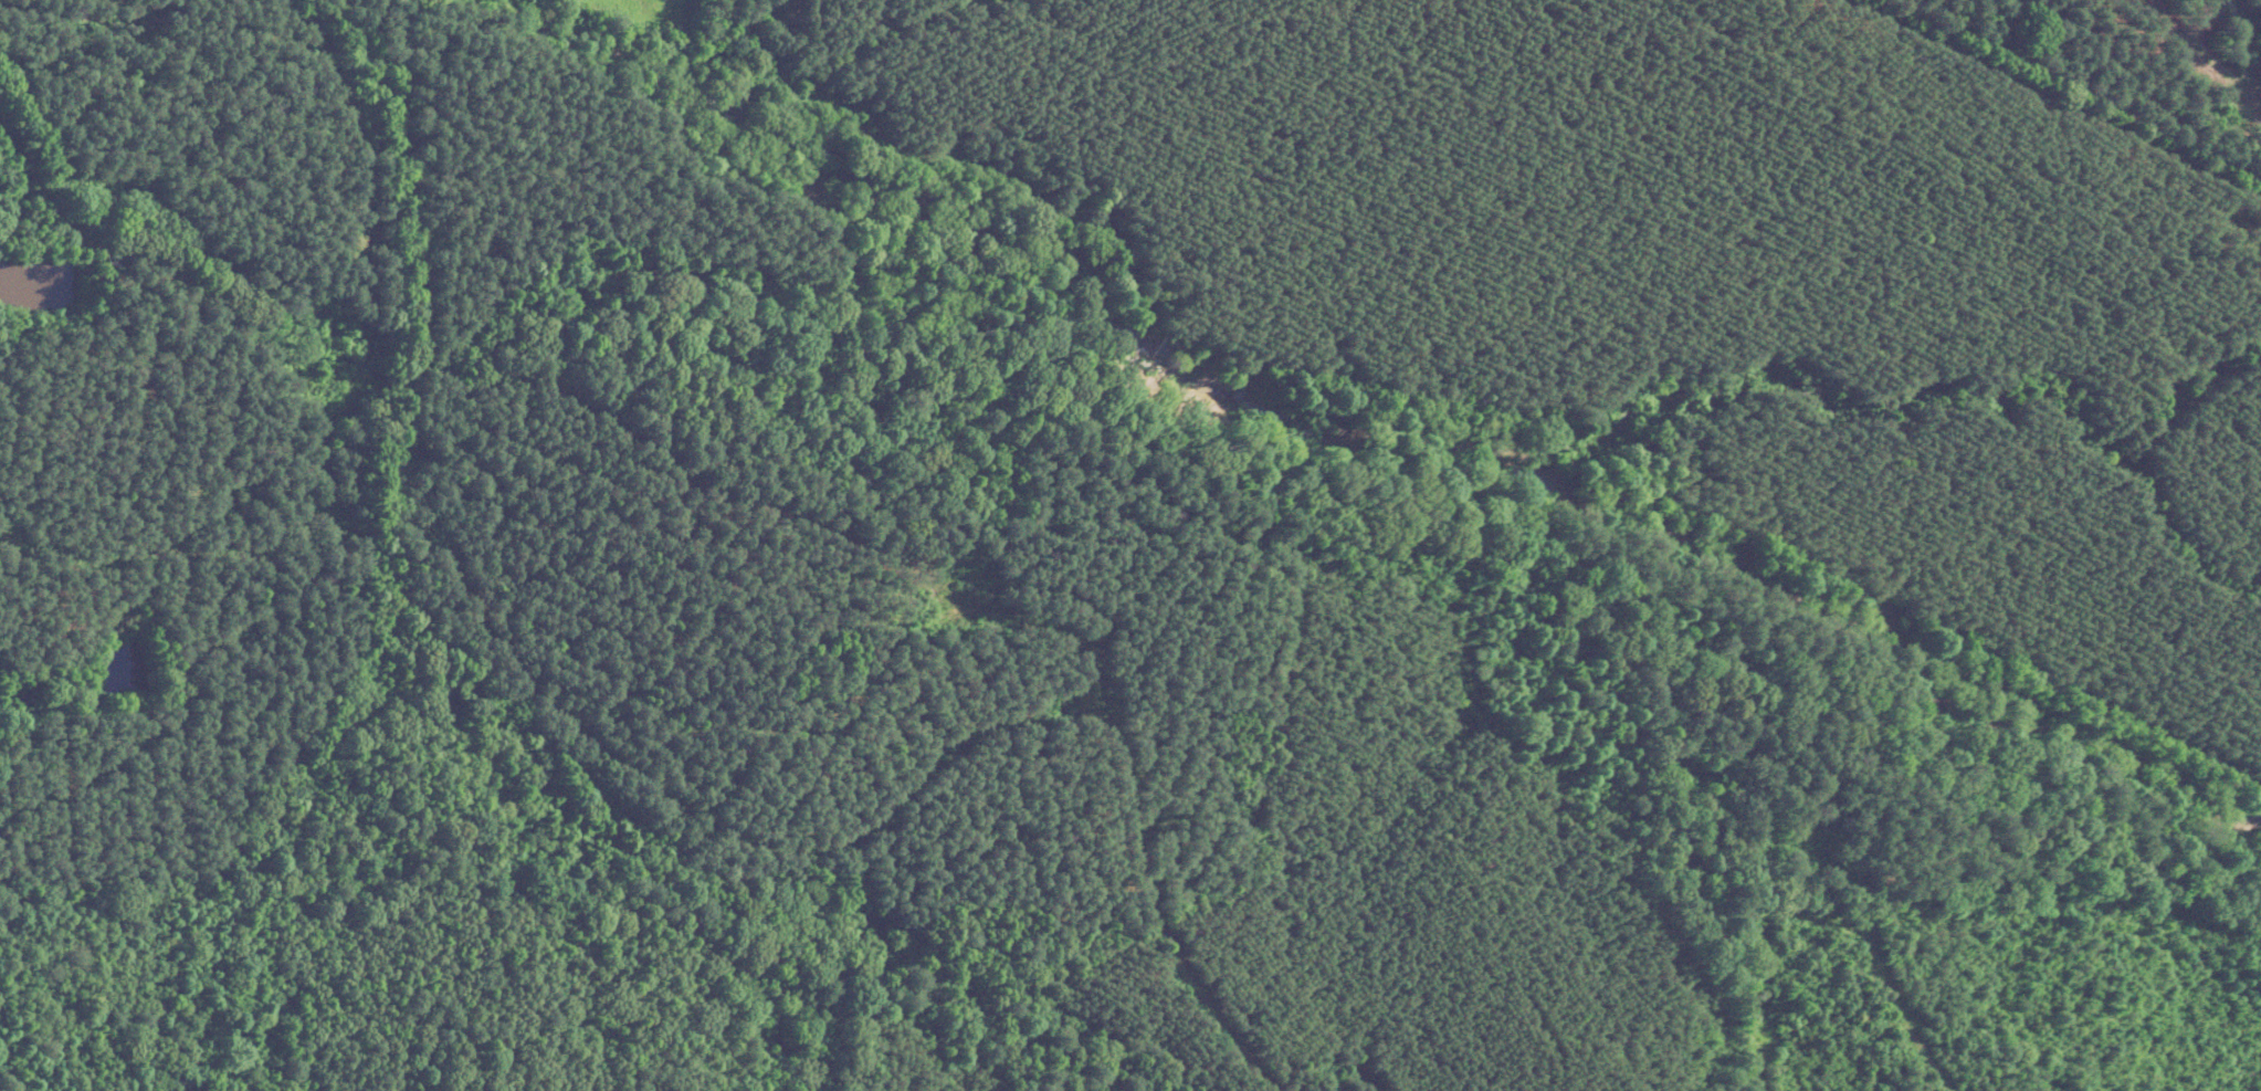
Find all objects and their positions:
road: (2241, 55)

